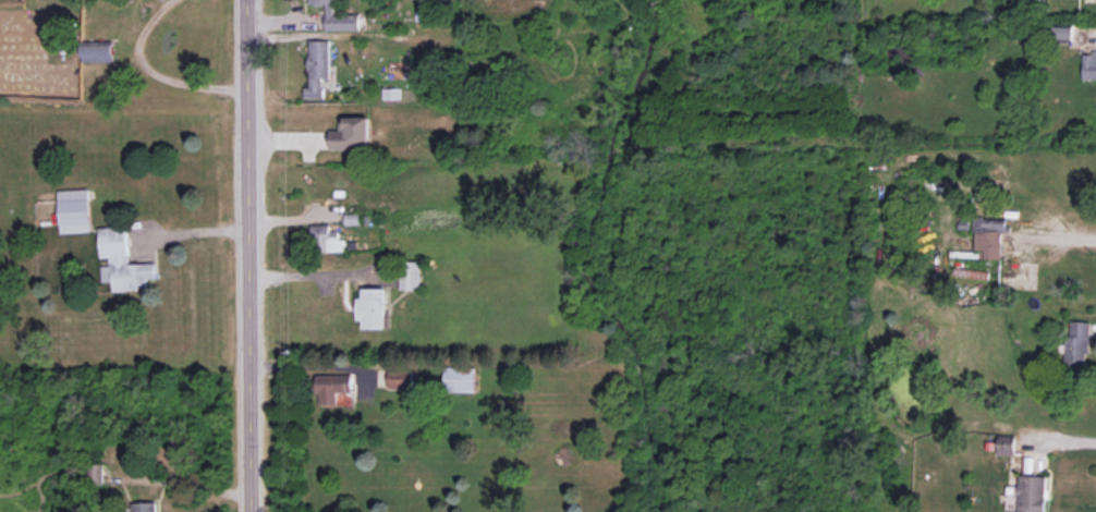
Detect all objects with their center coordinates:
building: (337, 16)
building: (1062, 34)
building: (96, 51)
building: (1089, 65)
building: (316, 68)
road: (148, 76)
building: (351, 134)
building: (74, 210)
building: (988, 236)
road: (1057, 237)
building: (326, 239)
road: (246, 256)
building: (122, 261)
road: (313, 275)
building: (409, 276)
building: (372, 308)
building: (1076, 345)
road: (310, 364)
building: (459, 379)
building: (400, 380)
building: (331, 387)
road: (1065, 441)
building: (1006, 446)
building: (95, 474)
building: (1032, 493)
building: (1011, 498)
building: (143, 507)

